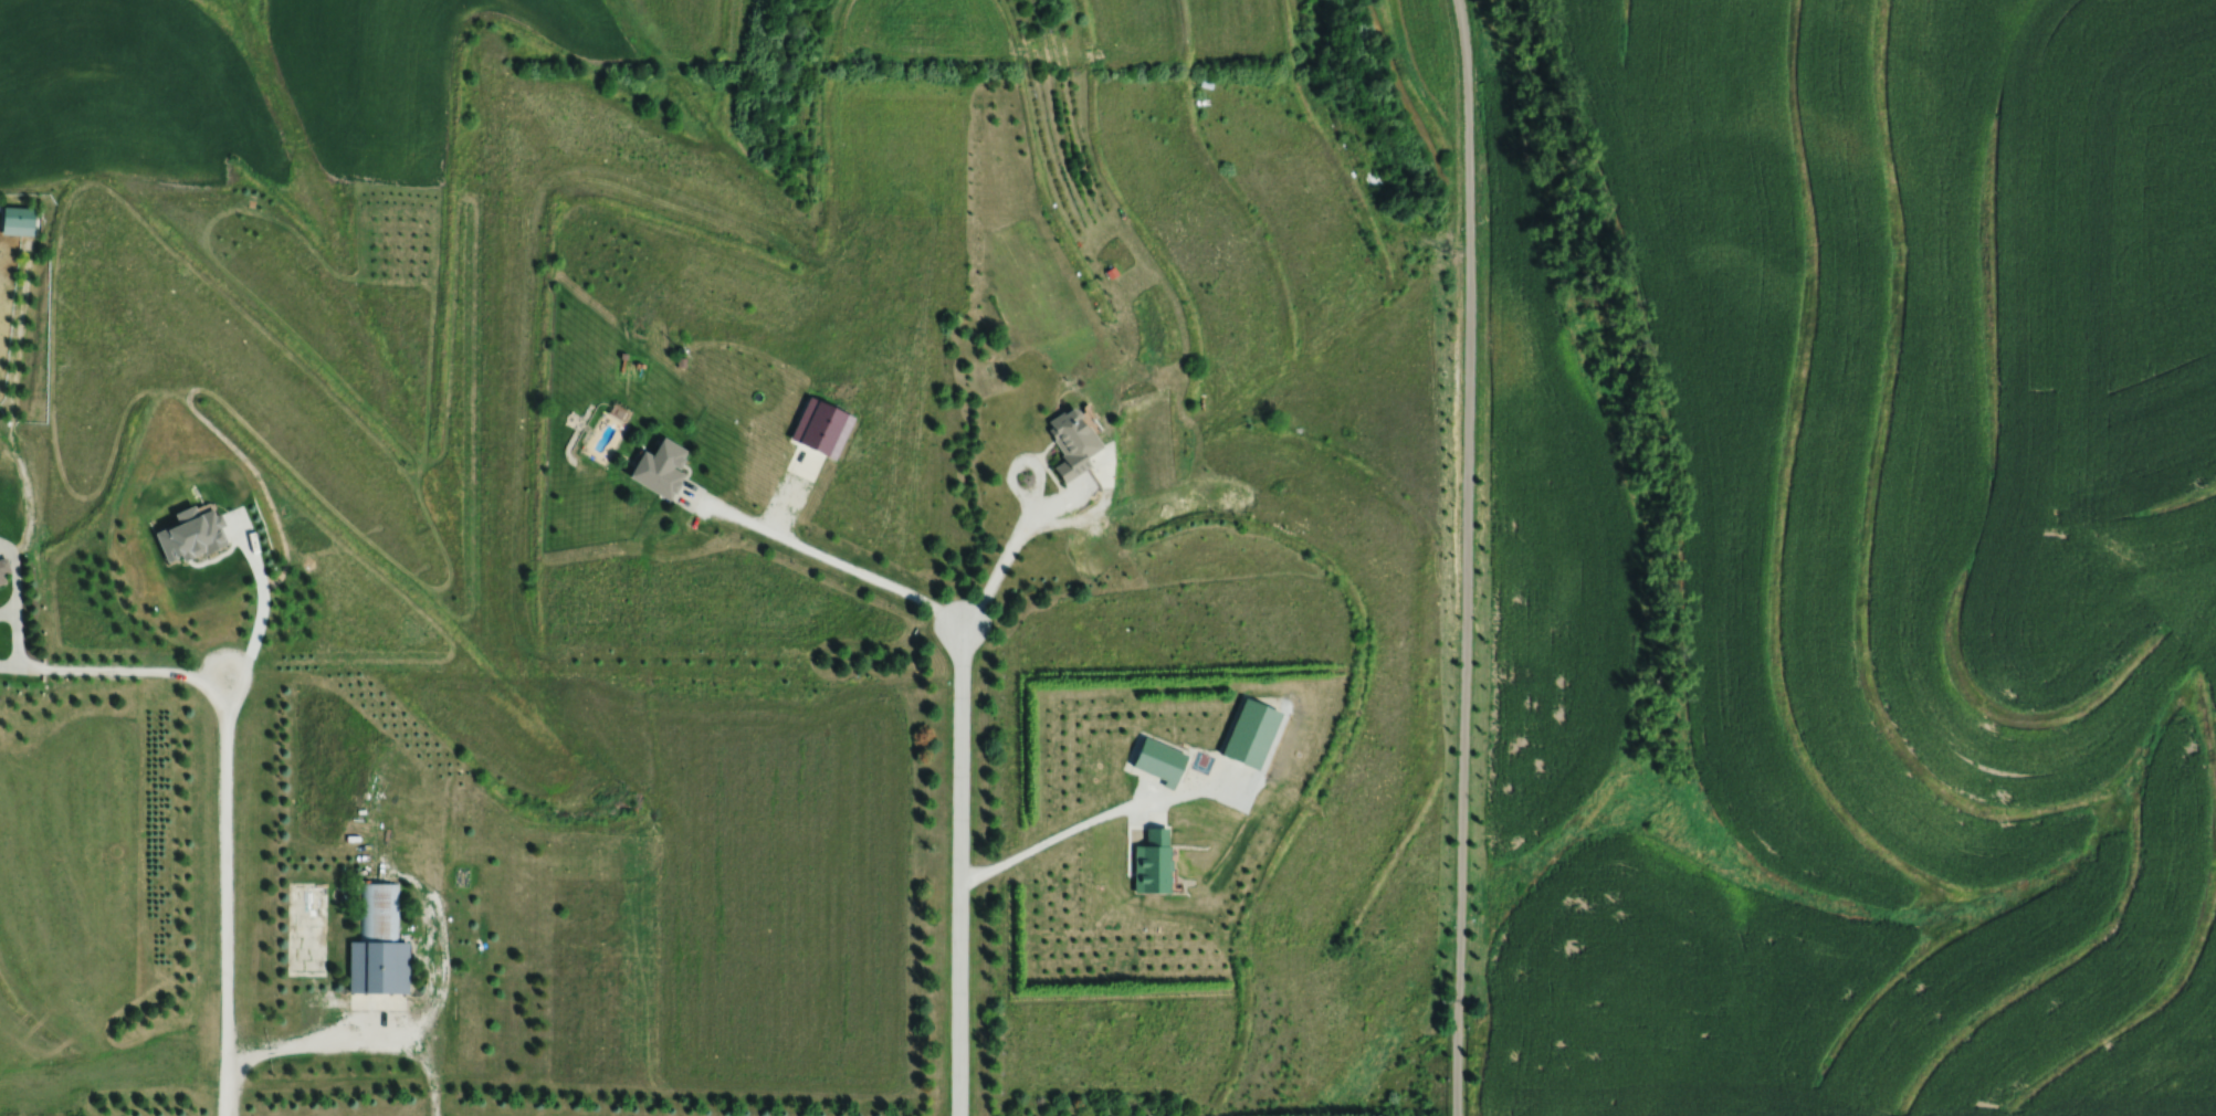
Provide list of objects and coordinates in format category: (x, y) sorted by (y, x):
road: (12, 398)
building: (1073, 443)
road: (1019, 459)
building: (660, 470)
road: (790, 489)
road: (1064, 494)
road: (1089, 515)
road: (1027, 520)
road: (233, 529)
road: (820, 552)
road: (1466, 557)
road: (991, 580)
road: (261, 593)
road: (15, 600)
road: (7, 609)
road: (8, 666)
road: (122, 668)
road: (1149, 789)
road: (1156, 812)
road: (1099, 814)
road: (958, 870)
road: (227, 895)
building: (378, 944)
road: (433, 976)
road: (327, 1036)

